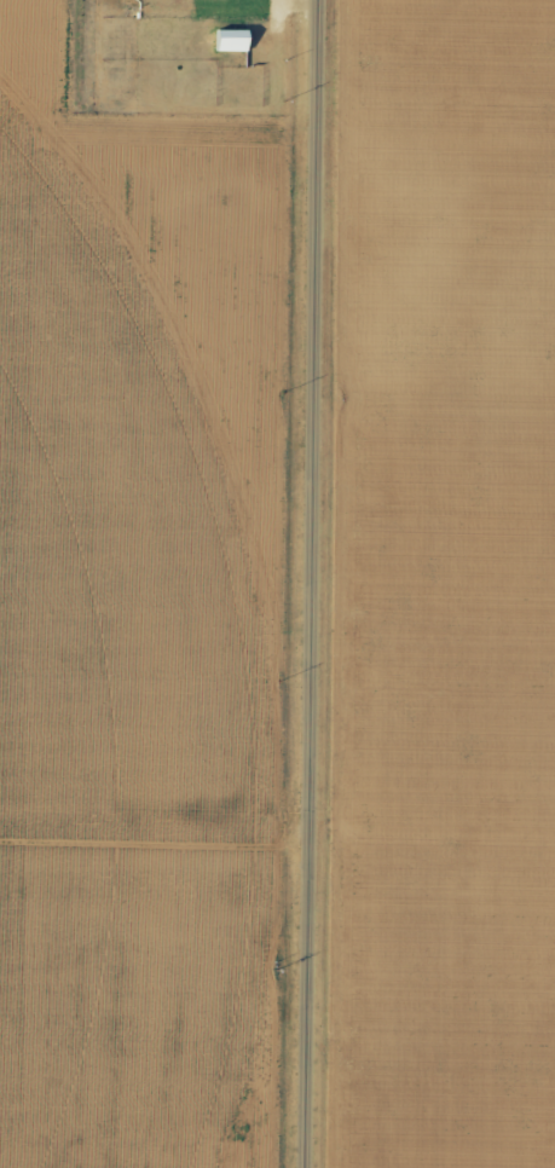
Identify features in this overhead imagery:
building: (229, 40)
road: (319, 584)
road: (157, 903)

